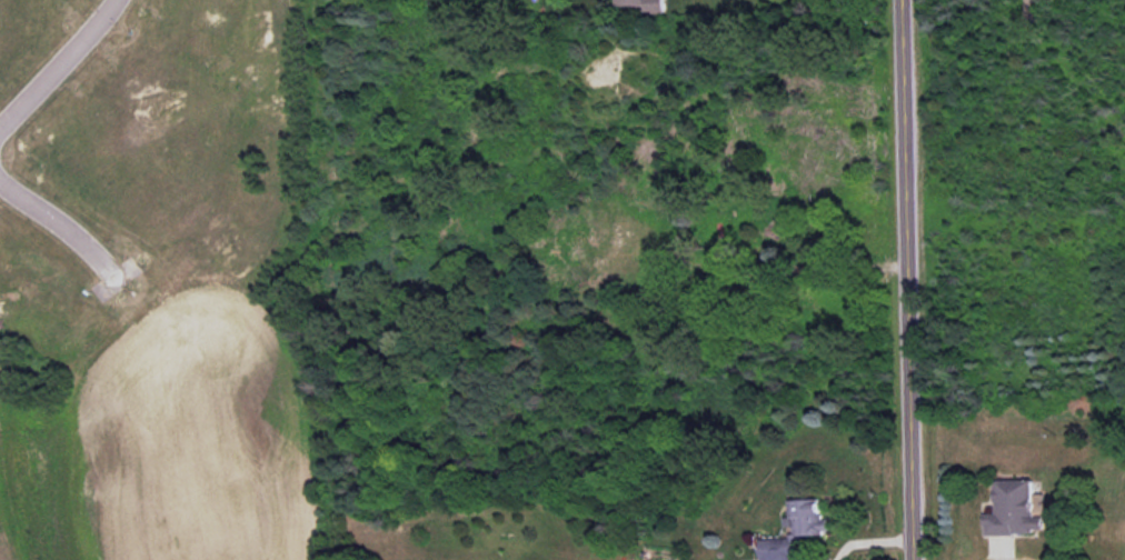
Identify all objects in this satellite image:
building: (645, 4)
road: (59, 66)
road: (64, 224)
road: (825, 269)
road: (905, 280)
crop: (157, 433)
building: (1013, 509)
building: (806, 517)
road: (869, 542)
building: (779, 549)

